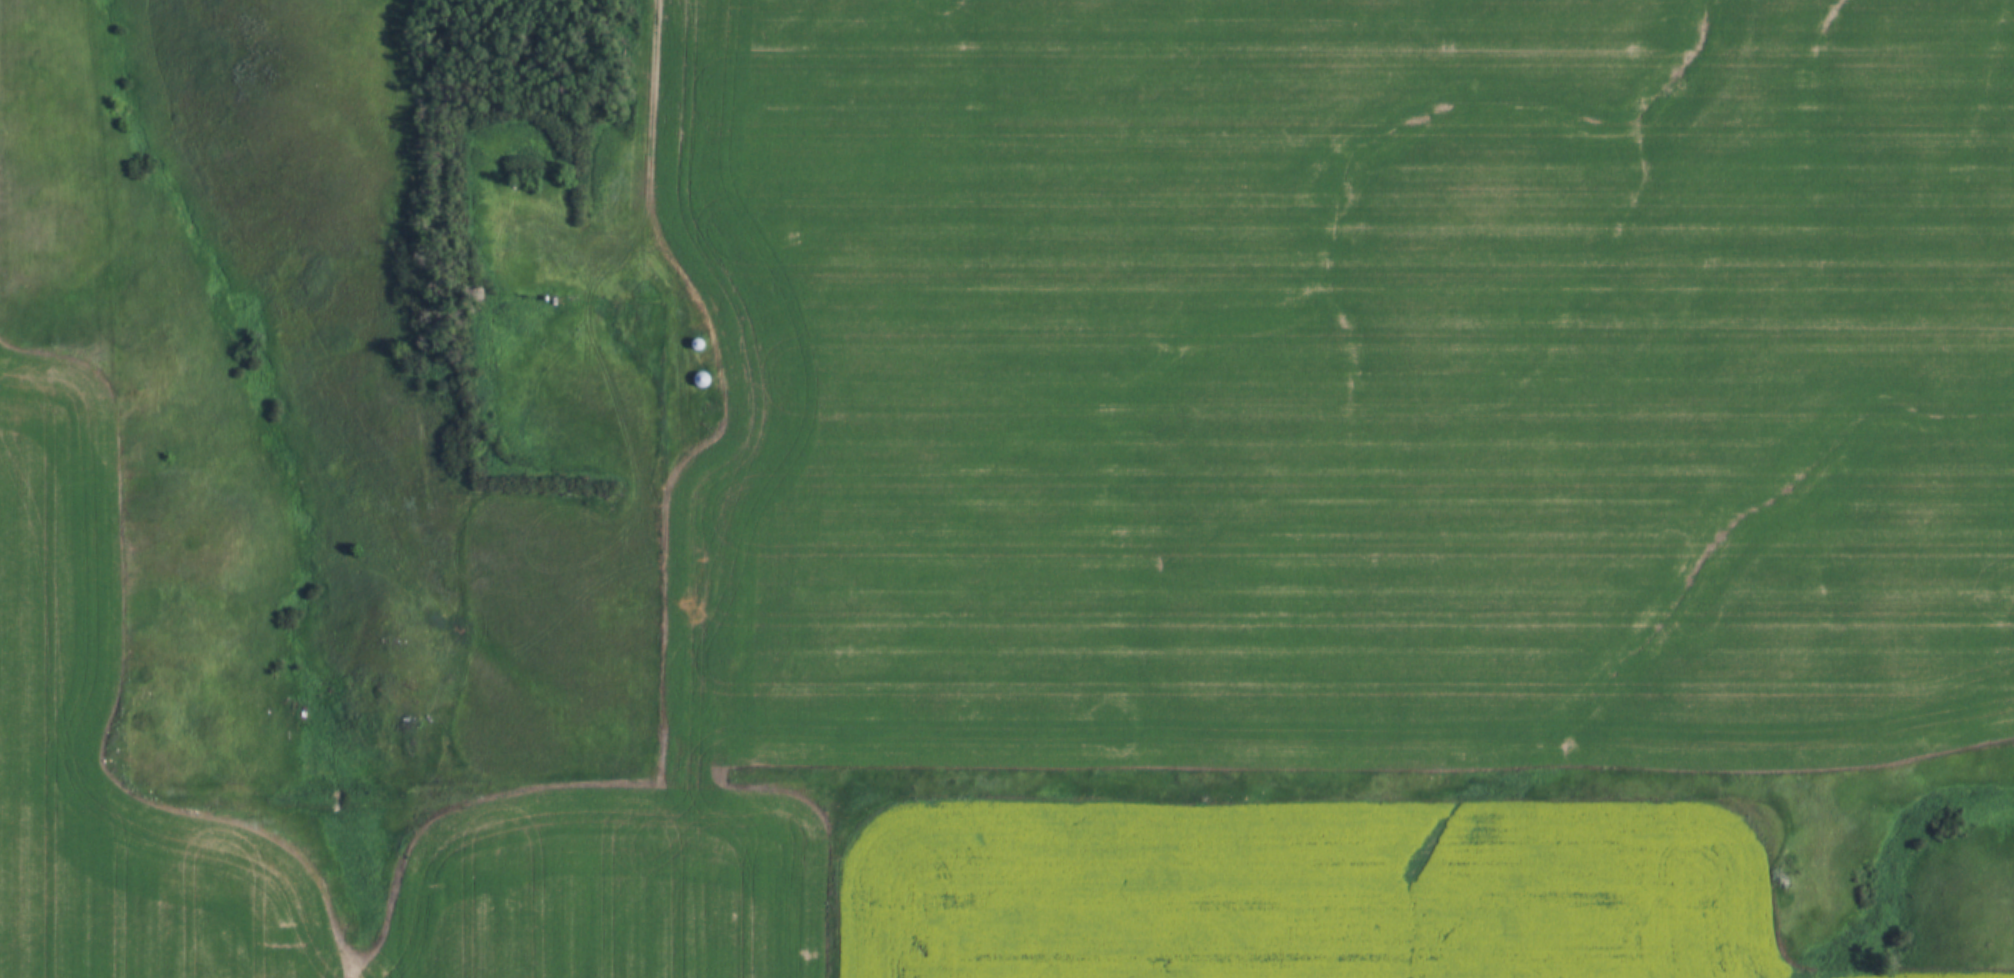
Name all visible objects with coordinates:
road: (651, 171)

